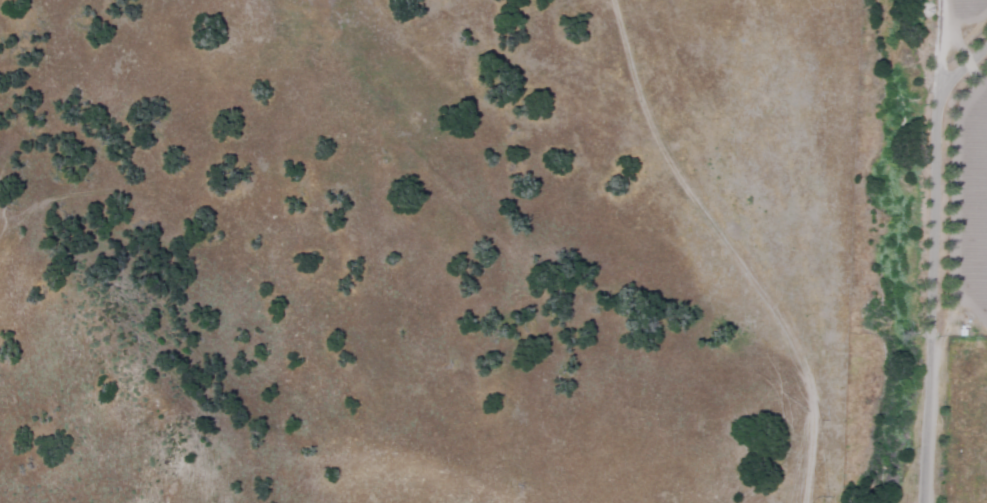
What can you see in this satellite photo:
crop: (974, 169)
road: (733, 246)
road: (930, 251)

